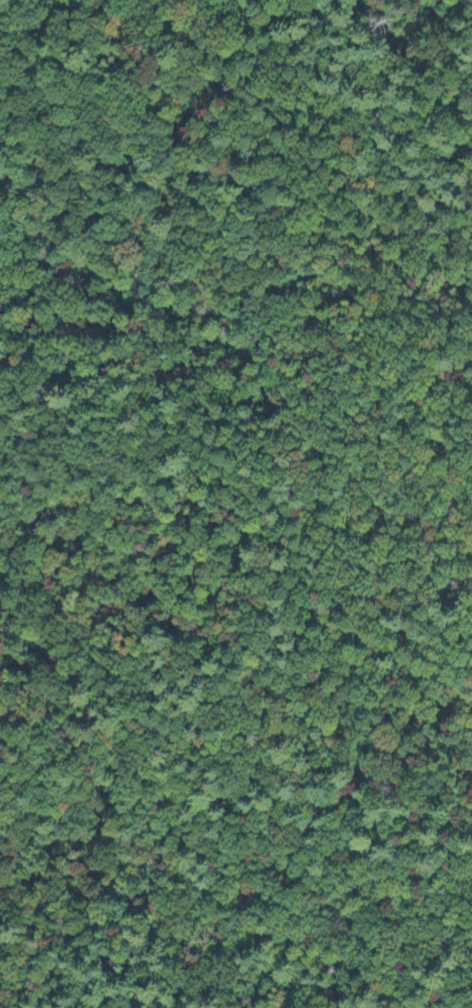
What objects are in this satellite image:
road: (261, 225)

